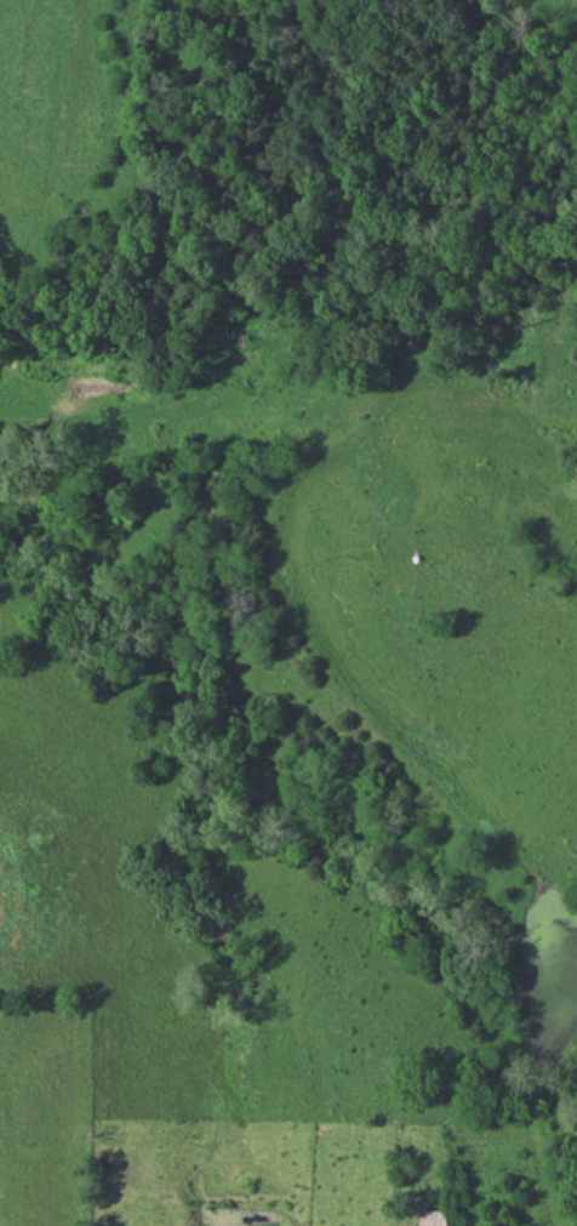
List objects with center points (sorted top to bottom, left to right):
building: (434, 1218)

